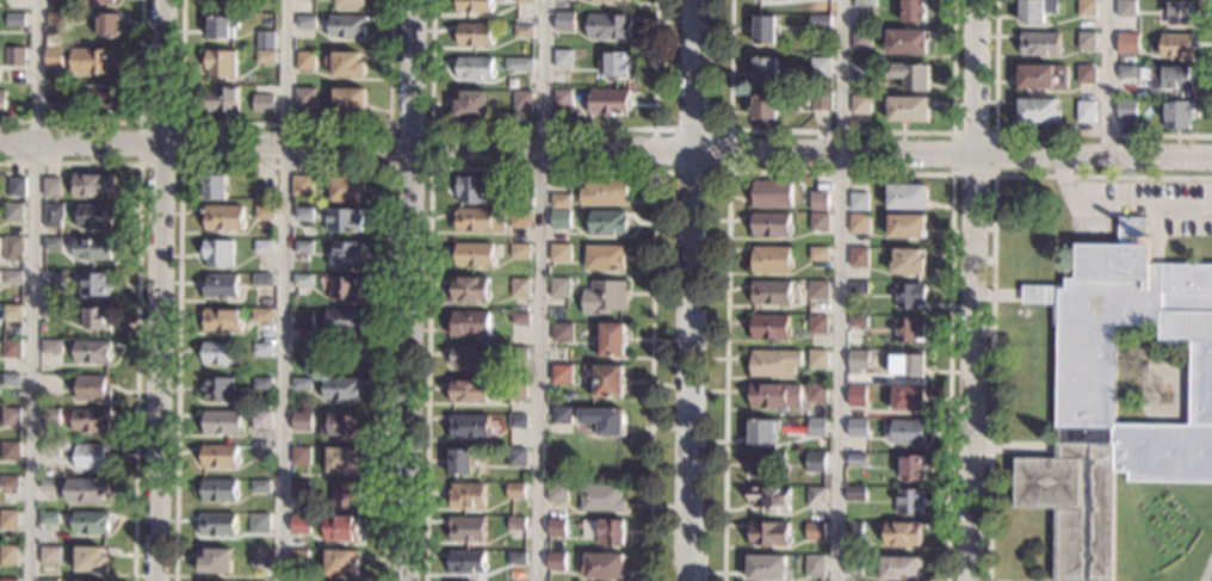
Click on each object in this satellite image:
building: (225, 0)
building: (787, 0)
building: (100, 1)
building: (525, 1)
building: (611, 1)
building: (865, 2)
building: (352, 4)
building: (475, 6)
building: (1087, 7)
building: (1126, 8)
building: (913, 11)
building: (1035, 11)
building: (1180, 12)
building: (58, 18)
building: (16, 19)
building: (305, 20)
building: (818, 20)
building: (564, 21)
building: (109, 25)
building: (221, 26)
building: (347, 26)
building: (608, 26)
building: (765, 30)
building: (524, 31)
building: (475, 33)
building: (861, 38)
building: (265, 39)
building: (1086, 39)
building: (1126, 41)
building: (905, 42)
building: (1038, 43)
building: (1175, 44)
building: (252, 52)
building: (266, 56)
building: (14, 57)
building: (54, 57)
building: (564, 58)
building: (93, 61)
building: (305, 61)
building: (221, 63)
building: (519, 64)
building: (347, 66)
building: (617, 66)
building: (820, 66)
building: (475, 68)
building: (766, 68)
building: (860, 70)
building: (1086, 74)
building: (911, 75)
building: (1158, 75)
building: (1043, 76)
road: (1103, 76)
building: (56, 92)
building: (98, 98)
building: (305, 98)
building: (562, 98)
building: (222, 99)
building: (2, 100)
building: (350, 100)
building: (521, 100)
building: (821, 100)
building: (608, 101)
building: (262, 103)
building: (472, 105)
building: (860, 105)
building: (765, 107)
building: (908, 109)
building: (1126, 109)
building: (1038, 111)
building: (1086, 112)
building: (1179, 115)
road: (131, 120)
road: (285, 124)
road: (544, 126)
road: (841, 131)
road: (1035, 134)
road: (606, 146)
road: (138, 165)
road: (283, 166)
road: (388, 167)
road: (540, 171)
road: (728, 171)
road: (836, 172)
road: (950, 174)
building: (93, 185)
building: (265, 185)
building: (303, 185)
building: (17, 186)
building: (214, 186)
building: (51, 187)
building: (344, 188)
building: (471, 190)
building: (604, 192)
building: (771, 193)
building: (524, 197)
building: (907, 197)
building: (820, 200)
building: (561, 202)
building: (858, 202)
road: (1115, 209)
building: (13, 212)
building: (264, 212)
building: (303, 214)
building: (52, 215)
building: (95, 216)
building: (223, 218)
building: (521, 218)
building: (344, 221)
building: (478, 221)
building: (561, 221)
building: (818, 222)
building: (608, 223)
building: (859, 223)
building: (771, 224)
building: (907, 225)
building: (52, 243)
building: (262, 247)
building: (303, 247)
building: (92, 248)
building: (13, 249)
building: (520, 251)
building: (218, 253)
building: (559, 253)
building: (346, 254)
building: (817, 254)
building: (474, 255)
building: (858, 256)
building: (605, 258)
building: (771, 259)
building: (908, 262)
road: (991, 268)
building: (13, 277)
building: (52, 278)
building: (262, 279)
building: (303, 280)
building: (95, 284)
building: (221, 285)
building: (521, 286)
building: (345, 288)
building: (559, 288)
building: (859, 288)
road: (33, 290)
road: (159, 290)
road: (282, 290)
road: (409, 290)
building: (470, 290)
road: (539, 290)
road: (690, 290)
building: (818, 290)
road: (839, 290)
road: (972, 290)
building: (771, 292)
building: (910, 295)
road: (1006, 295)
building: (604, 297)
road: (134, 303)
building: (12, 311)
building: (51, 311)
building: (261, 315)
building: (97, 319)
building: (520, 319)
building: (222, 320)
building: (303, 320)
building: (344, 321)
building: (858, 321)
building: (470, 323)
building: (817, 325)
building: (769, 327)
building: (909, 329)
building: (563, 333)
building: (612, 340)
building: (51, 346)
building: (12, 348)
building: (261, 350)
building: (92, 351)
building: (519, 352)
building: (221, 353)
building: (469, 357)
building: (817, 359)
building: (857, 360)
building: (774, 363)
building: (908, 364)
building: (562, 373)
building: (11, 379)
building: (608, 382)
building: (1084, 382)
building: (51, 383)
building: (261, 383)
building: (301, 384)
building: (93, 388)
building: (217, 389)
building: (341, 389)
building: (469, 391)
building: (518, 391)
building: (816, 394)
building: (768, 396)
building: (857, 396)
building: (908, 398)
building: (51, 415)
building: (561, 415)
building: (11, 416)
building: (91, 420)
building: (260, 420)
building: (604, 420)
building: (302, 421)
building: (518, 421)
building: (222, 424)
building: (342, 426)
building: (469, 426)
building: (816, 427)
building: (857, 427)
building: (762, 431)
building: (905, 432)
road: (1022, 446)
building: (51, 450)
building: (10, 451)
building: (261, 452)
building: (299, 456)
building: (91, 457)
building: (218, 457)
building: (515, 457)
building: (857, 459)
building: (342, 461)
building: (460, 462)
building: (815, 462)
building: (765, 464)
building: (911, 466)
building: (10, 482)
building: (260, 487)
building: (79, 489)
building: (218, 490)
building: (299, 490)
building: (515, 490)
building: (346, 494)
building: (557, 494)
building: (854, 494)
building: (466, 496)
building: (816, 496)
building: (600, 497)
building: (771, 499)
building: (909, 502)
building: (49, 518)
building: (8, 519)
building: (91, 523)
building: (217, 524)
building: (259, 524)
building: (517, 524)
building: (301, 525)
building: (465, 527)
building: (341, 529)
building: (557, 529)
building: (814, 531)
building: (854, 531)
building: (611, 532)
building: (901, 533)
building: (768, 534)
building: (8, 555)
building: (50, 555)
building: (515, 557)
building: (259, 558)
building: (298, 558)
building: (91, 560)
building: (216, 561)
building: (466, 561)
building: (557, 562)
building: (342, 563)
building: (605, 565)
building: (853, 565)
building: (814, 567)
road: (1206, 567)
building: (898, 568)
building: (767, 569)
building: (8, 580)
building: (48, 580)
building: (88, 580)

